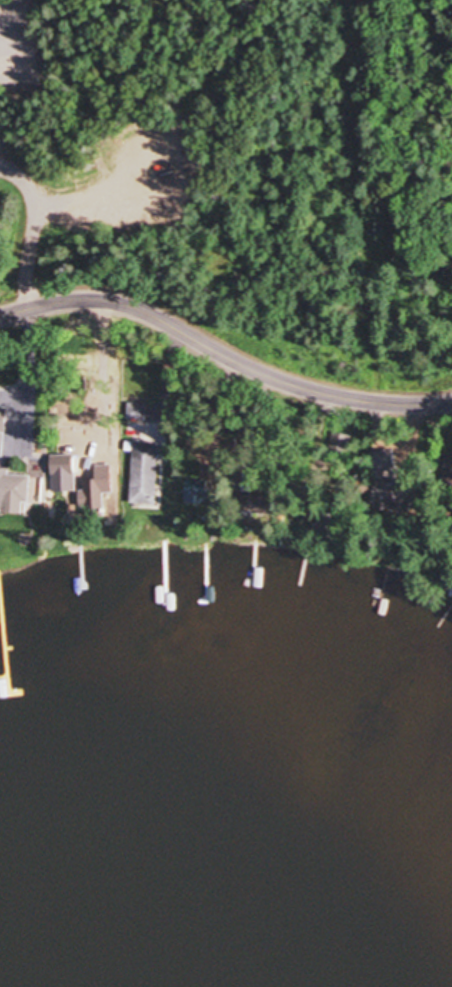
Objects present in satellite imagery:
road: (362, 202)
road: (222, 355)
building: (2, 442)
building: (66, 448)
building: (145, 455)
building: (448, 472)
building: (16, 489)
building: (395, 497)

